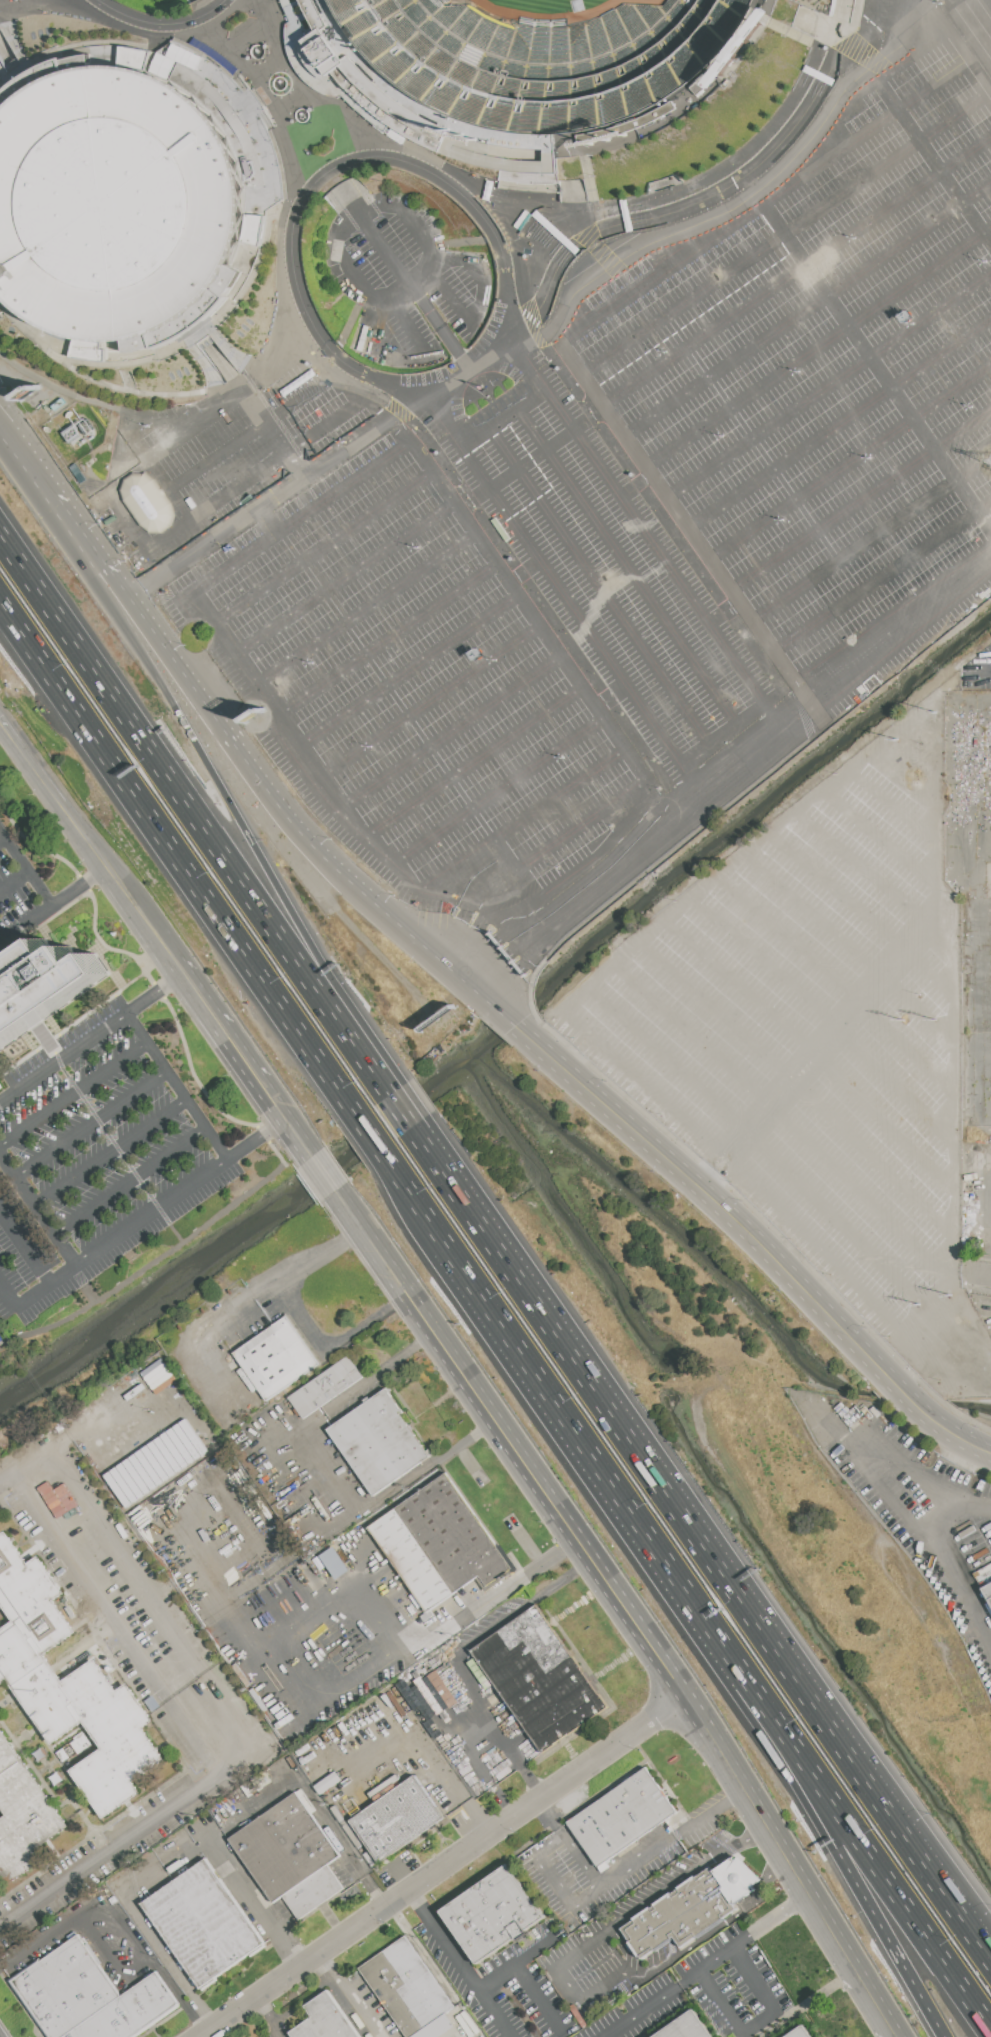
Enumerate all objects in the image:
park: (558, 8)
building: (831, 19)
stadium: (831, 19)
road: (167, 25)
road: (944, 29)
road: (844, 33)
road: (17, 40)
road: (8, 53)
building: (517, 70)
stadium: (517, 70)
road: (8, 72)
building: (707, 80)
road: (13, 87)
road: (267, 88)
road: (865, 90)
road: (269, 95)
road: (308, 101)
road: (887, 118)
road: (332, 174)
road: (726, 194)
road: (274, 203)
building: (118, 206)
stadium: (118, 206)
road: (785, 234)
road: (842, 240)
road: (459, 256)
road: (409, 277)
road: (405, 291)
road: (449, 298)
road: (807, 310)
road: (405, 322)
road: (508, 345)
road: (818, 349)
road: (176, 353)
road: (873, 357)
road: (877, 363)
road: (648, 374)
road: (461, 379)
road: (235, 388)
road: (137, 392)
road: (360, 395)
road: (428, 397)
road: (225, 406)
road: (259, 409)
road: (506, 414)
road: (840, 428)
road: (533, 431)
road: (249, 432)
road: (502, 447)
road: (634, 450)
road: (771, 461)
road: (851, 465)
road: (25, 466)
road: (515, 466)
road: (712, 469)
road: (244, 482)
road: (105, 485)
road: (290, 490)
road: (862, 502)
building: (145, 503)
road: (182, 503)
parking lot: (617, 516)
road: (67, 523)
road: (871, 537)
road: (322, 546)
road: (240, 560)
road: (105, 574)
road: (344, 577)
road: (884, 579)
road: (140, 593)
road: (323, 598)
road: (654, 598)
road: (366, 609)
road: (626, 619)
road: (386, 637)
road: (155, 638)
road: (407, 672)
road: (986, 672)
road: (428, 702)
power tower: (937, 713)
road: (449, 731)
power tower: (898, 739)
road: (32, 758)
road: (475, 763)
road: (734, 774)
road: (643, 784)
road: (499, 792)
road: (560, 796)
road: (896, 809)
road: (195, 814)
road: (241, 818)
road: (2, 838)
road: (319, 844)
road: (882, 848)
road: (758, 850)
road: (383, 855)
road: (180, 859)
road: (26, 867)
road: (556, 880)
road: (15, 881)
road: (121, 881)
parking lot: (18, 882)
road: (865, 885)
road: (55, 903)
road: (816, 930)
road: (785, 959)
road: (760, 983)
building: (43, 985)
road: (483, 996)
road: (949, 1007)
road: (733, 1008)
road: (506, 1017)
power tower: (937, 1020)
road: (220, 1021)
road: (921, 1021)
power tower: (904, 1022)
road: (136, 1028)
road: (705, 1034)
road: (92, 1037)
parking lot: (824, 1041)
road: (907, 1063)
building: (0, 1086)
road: (73, 1093)
road: (391, 1098)
road: (186, 1101)
road: (896, 1101)
road: (405, 1118)
road: (286, 1119)
road: (91, 1122)
road: (375, 1138)
road: (882, 1145)
road: (780, 1150)
road: (122, 1151)
road: (112, 1153)
parking lot: (96, 1158)
road: (718, 1172)
road: (326, 1175)
road: (130, 1179)
road: (875, 1187)
road: (413, 1193)
road: (39, 1205)
road: (152, 1213)
road: (760, 1242)
road: (25, 1244)
road: (160, 1258)
road: (977, 1274)
road: (864, 1284)
road: (9, 1293)
power tower: (952, 1295)
road: (246, 1303)
power tower: (920, 1304)
road: (332, 1342)
building: (277, 1358)
building: (326, 1387)
road: (604, 1404)
building: (379, 1443)
road: (132, 1450)
road: (599, 1461)
road: (327, 1475)
road: (938, 1487)
road: (975, 1505)
road: (910, 1520)
building: (439, 1543)
building: (334, 1562)
building: (986, 1583)
road: (148, 1604)
road: (623, 1604)
road: (115, 1627)
road: (459, 1671)
building: (540, 1679)
building: (69, 1685)
road: (321, 1707)
road: (430, 1755)
road: (890, 1797)
road: (313, 1802)
road: (890, 1813)
building: (23, 1815)
building: (623, 1817)
building: (397, 1819)
road: (137, 1833)
road: (551, 1846)
road: (658, 1848)
building: (290, 1856)
road: (875, 1859)
road: (445, 1867)
road: (847, 1867)
road: (686, 1873)
road: (247, 1888)
building: (679, 1913)
building: (493, 1914)
road: (770, 1919)
road: (116, 1921)
building: (204, 1924)
road: (717, 1927)
road: (162, 1945)
road: (623, 1949)
road: (109, 1958)
road: (563, 1961)
road: (514, 1964)
road: (457, 1965)
road: (606, 1987)
building: (407, 1988)
road: (669, 1992)
road: (353, 1995)
building: (88, 1997)
road: (342, 1998)
road: (540, 1999)
road: (270, 2018)
building: (325, 2020)
road: (758, 2021)
building: (685, 2027)
road: (459, 2029)
road: (894, 2031)
building: (800, 2033)

